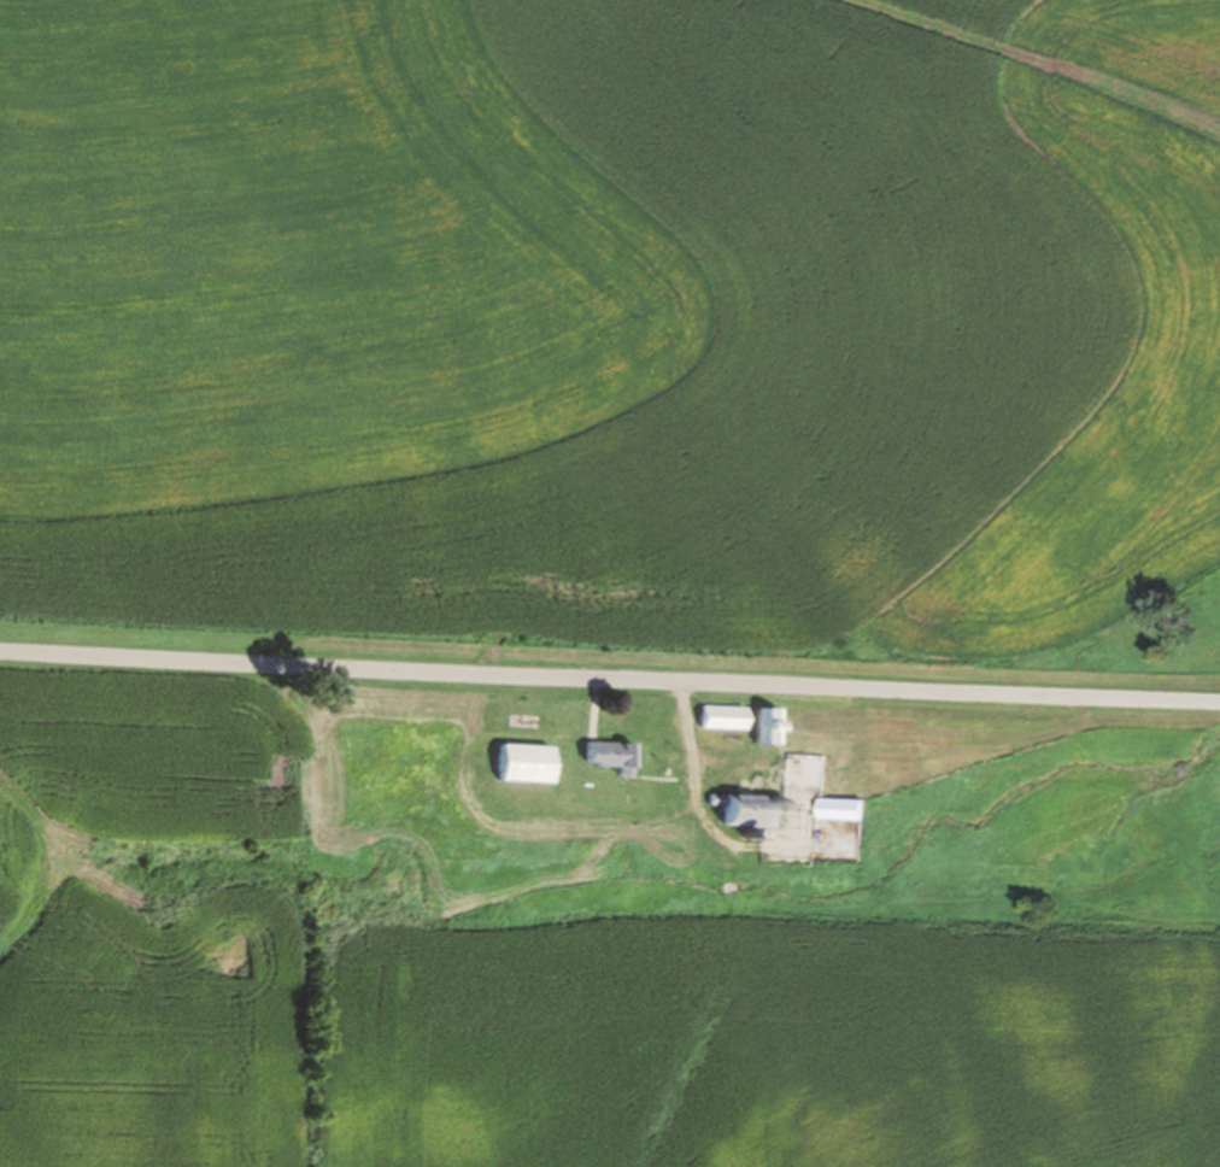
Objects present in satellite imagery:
road: (609, 682)
building: (722, 715)
building: (809, 719)
building: (769, 723)
building: (610, 752)
building: (528, 761)
building: (807, 770)
building: (846, 808)
building: (755, 809)

